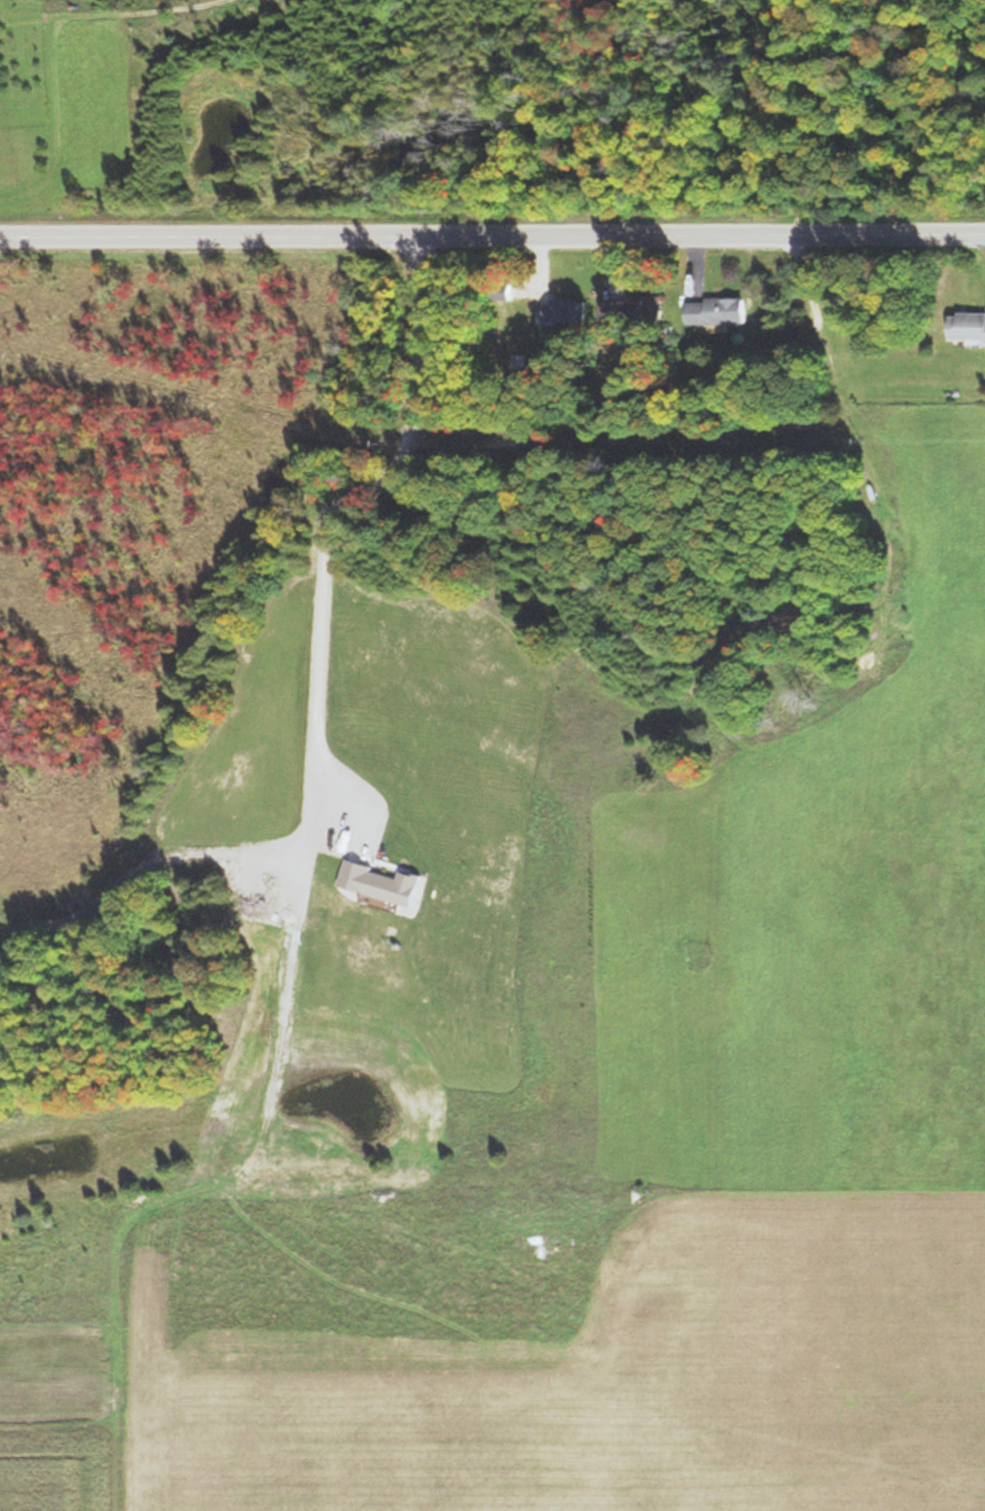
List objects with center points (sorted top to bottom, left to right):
road: (492, 235)
building: (641, 305)
building: (713, 310)
building: (558, 312)
building: (966, 326)

